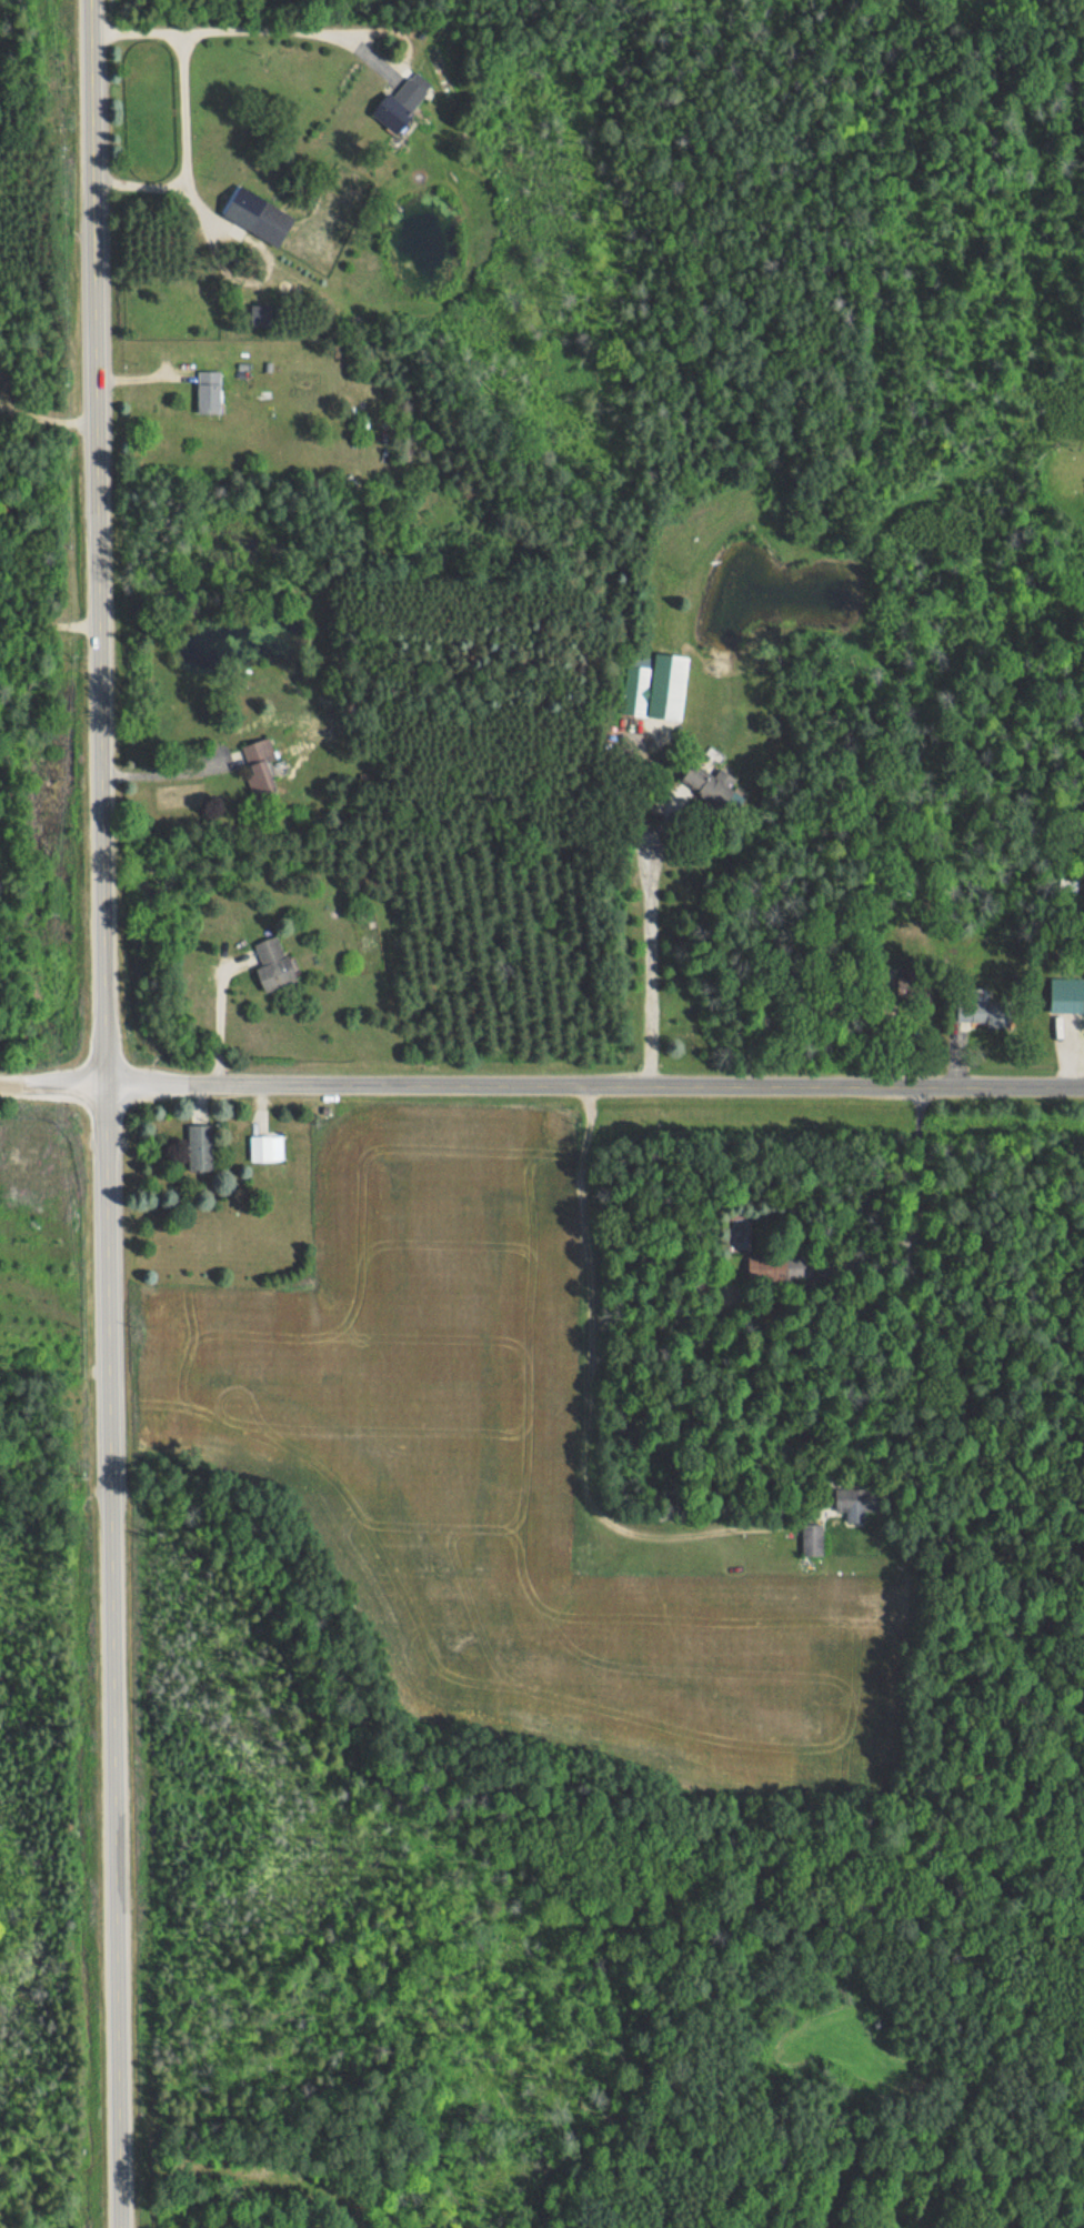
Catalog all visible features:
road: (269, 27)
building: (401, 102)
road: (183, 108)
building: (259, 215)
building: (209, 392)
road: (96, 540)
building: (636, 692)
building: (260, 766)
road: (168, 773)
building: (709, 786)
road: (651, 912)
building: (273, 964)
building: (984, 1013)
road: (594, 1082)
road: (52, 1083)
building: (200, 1147)
building: (267, 1148)
building: (773, 1267)
road: (909, 1297)
building: (853, 1505)
building: (812, 1539)
road: (112, 1655)

